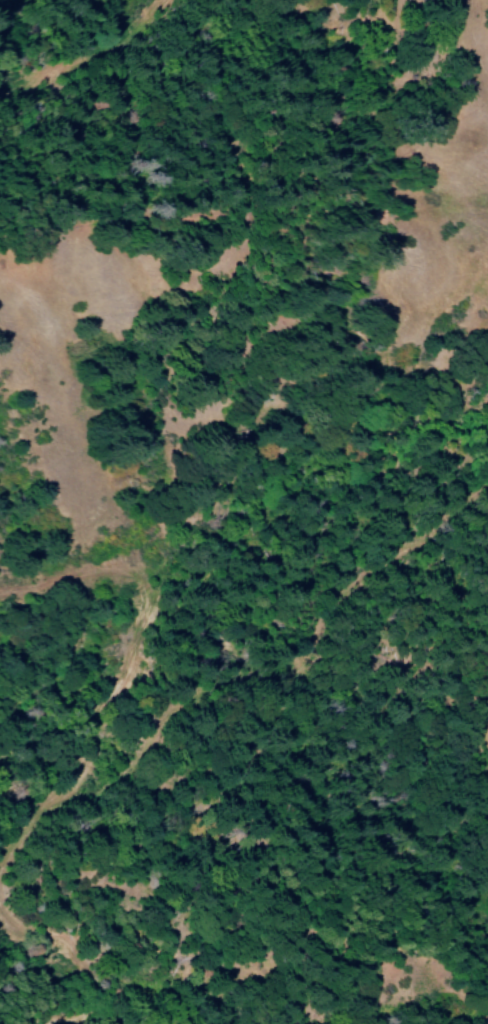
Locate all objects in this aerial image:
road: (75, 764)
road: (78, 968)

